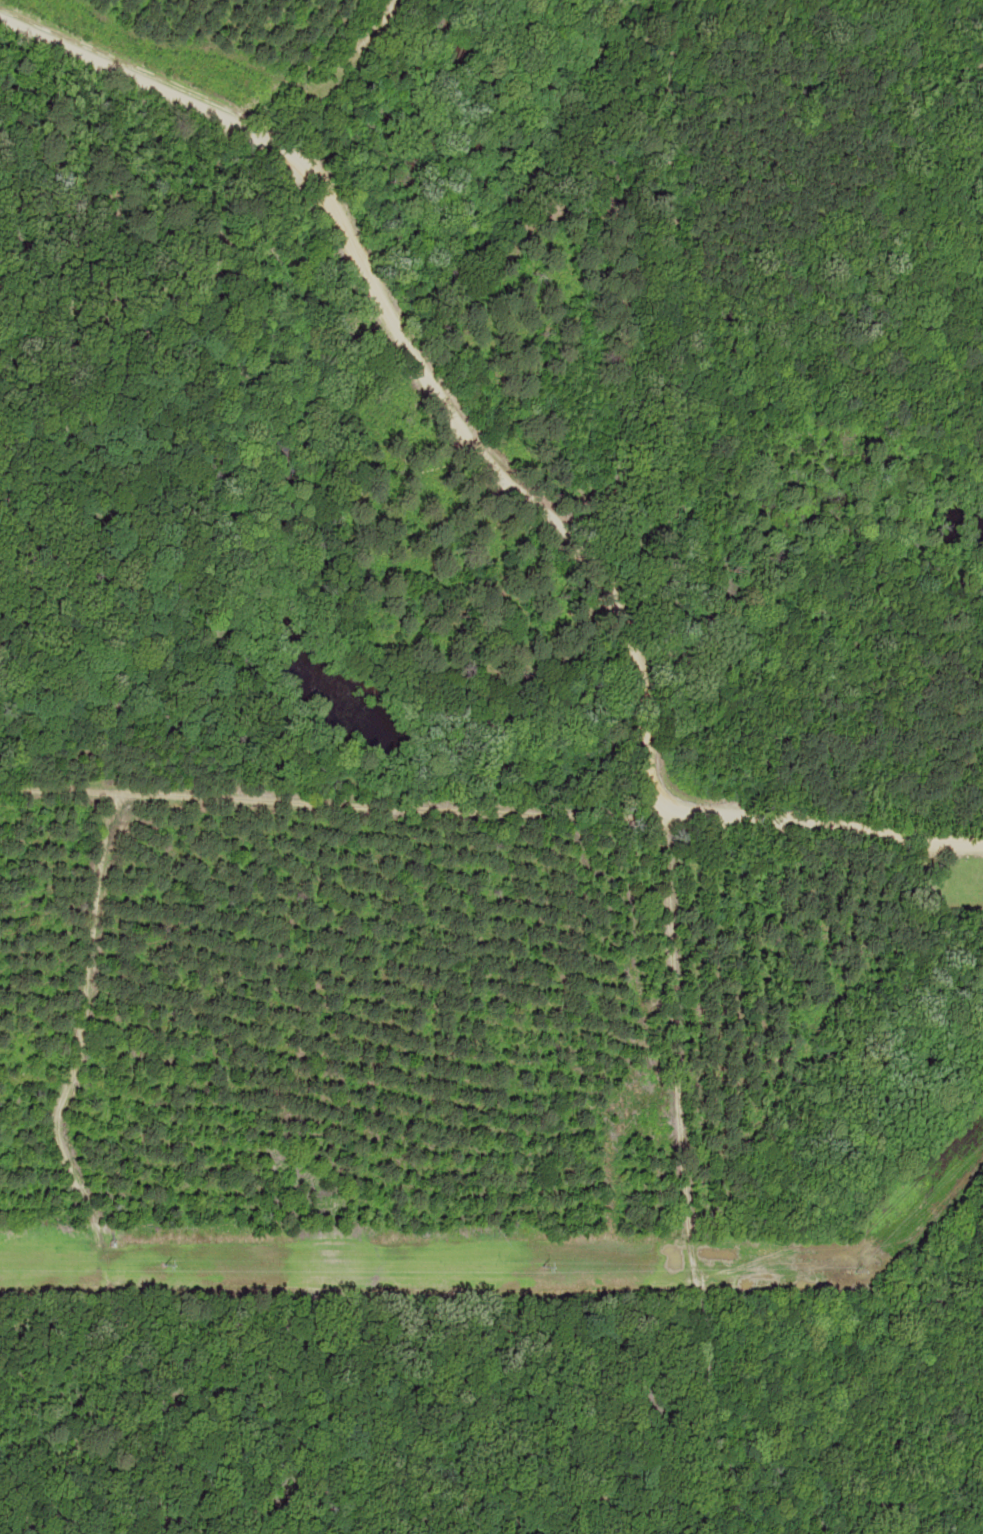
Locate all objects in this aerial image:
road: (401, 342)
road: (322, 791)
road: (814, 816)

